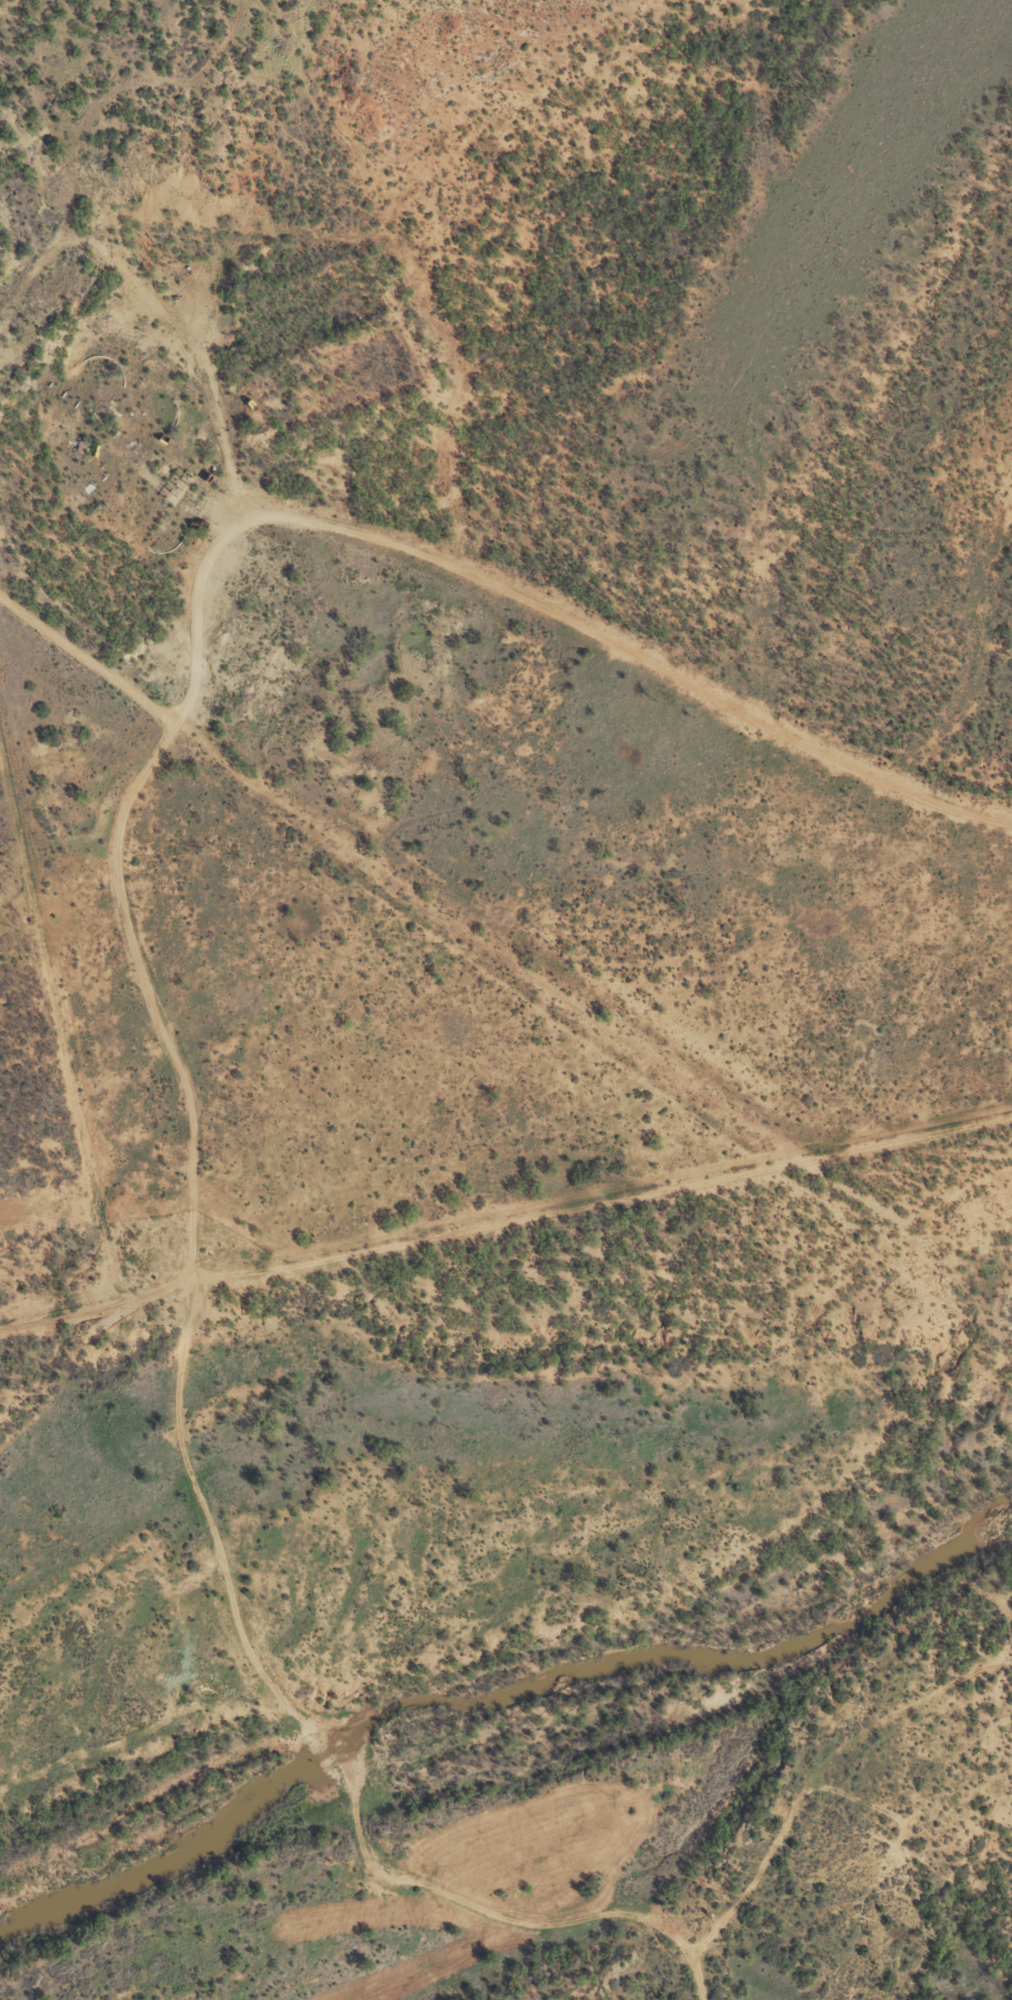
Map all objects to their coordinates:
road: (263, 629)
river: (501, 1690)

